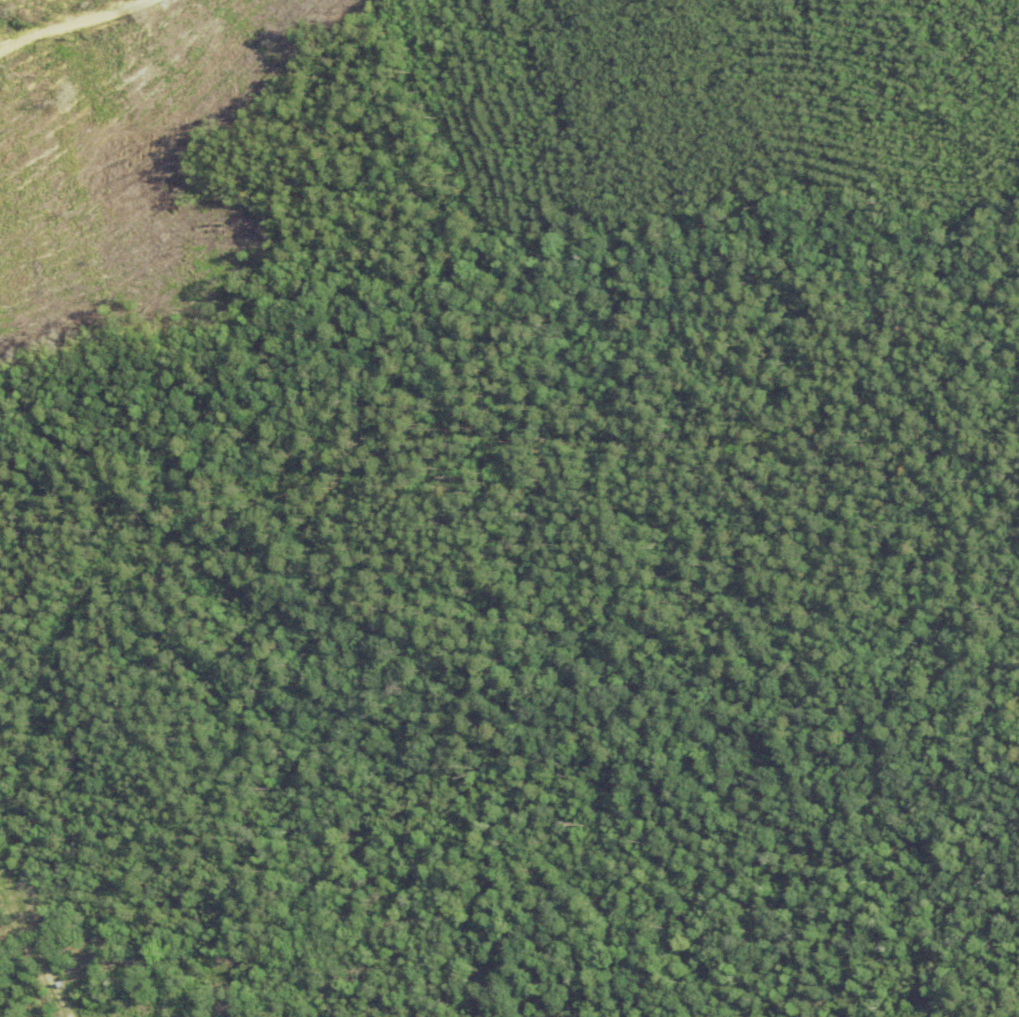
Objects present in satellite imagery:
road: (80, 26)

